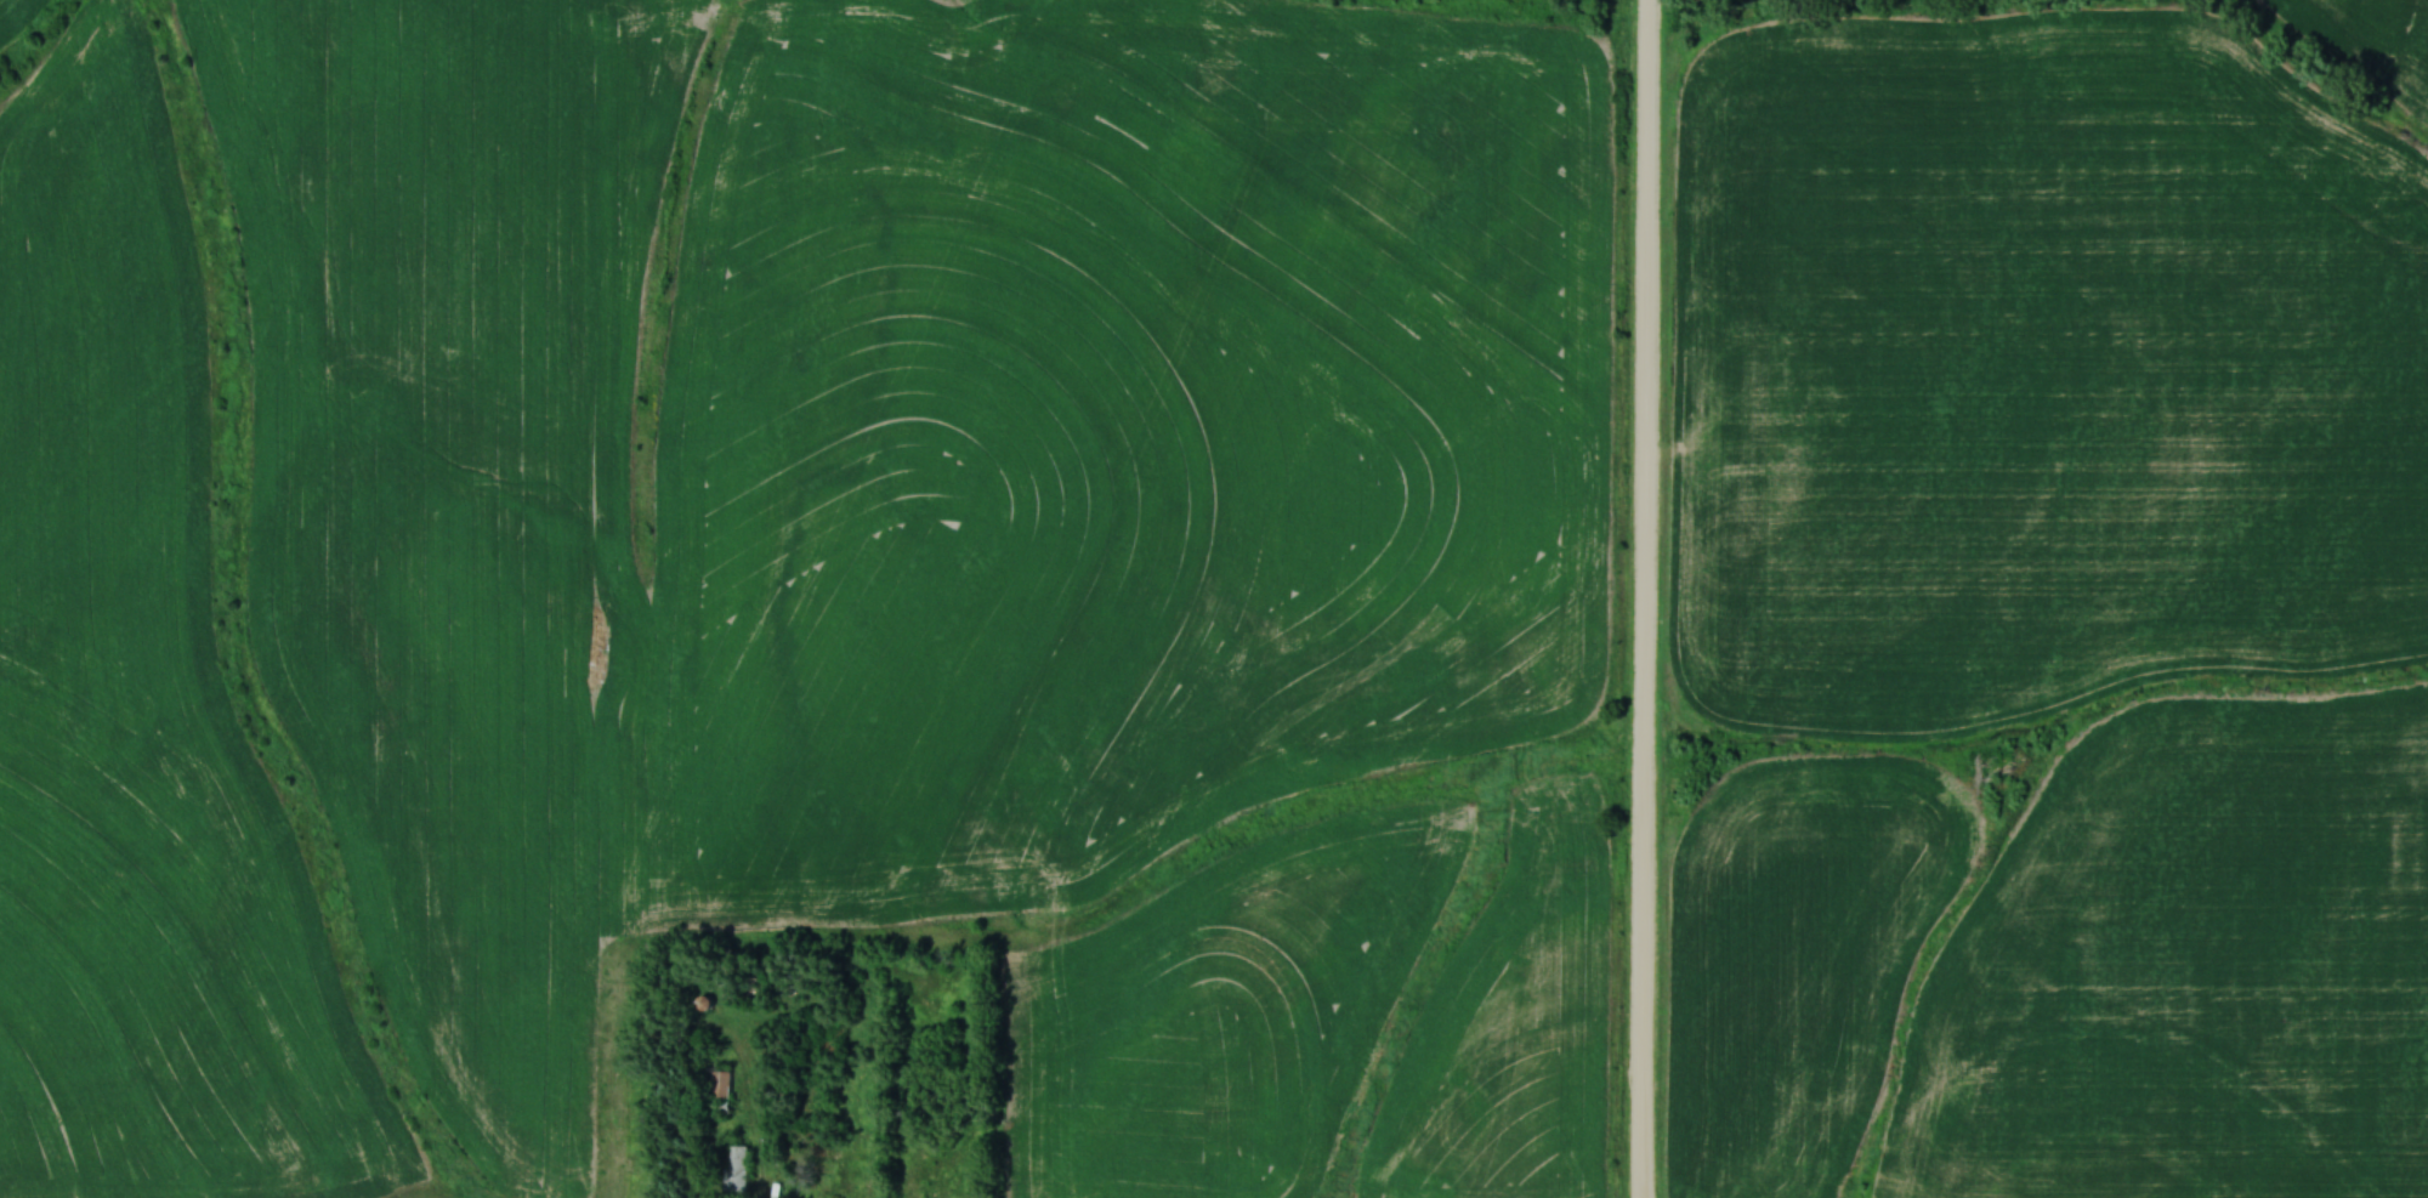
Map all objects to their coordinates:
road: (1646, 598)
building: (727, 1085)
building: (836, 1134)
building: (744, 1168)

